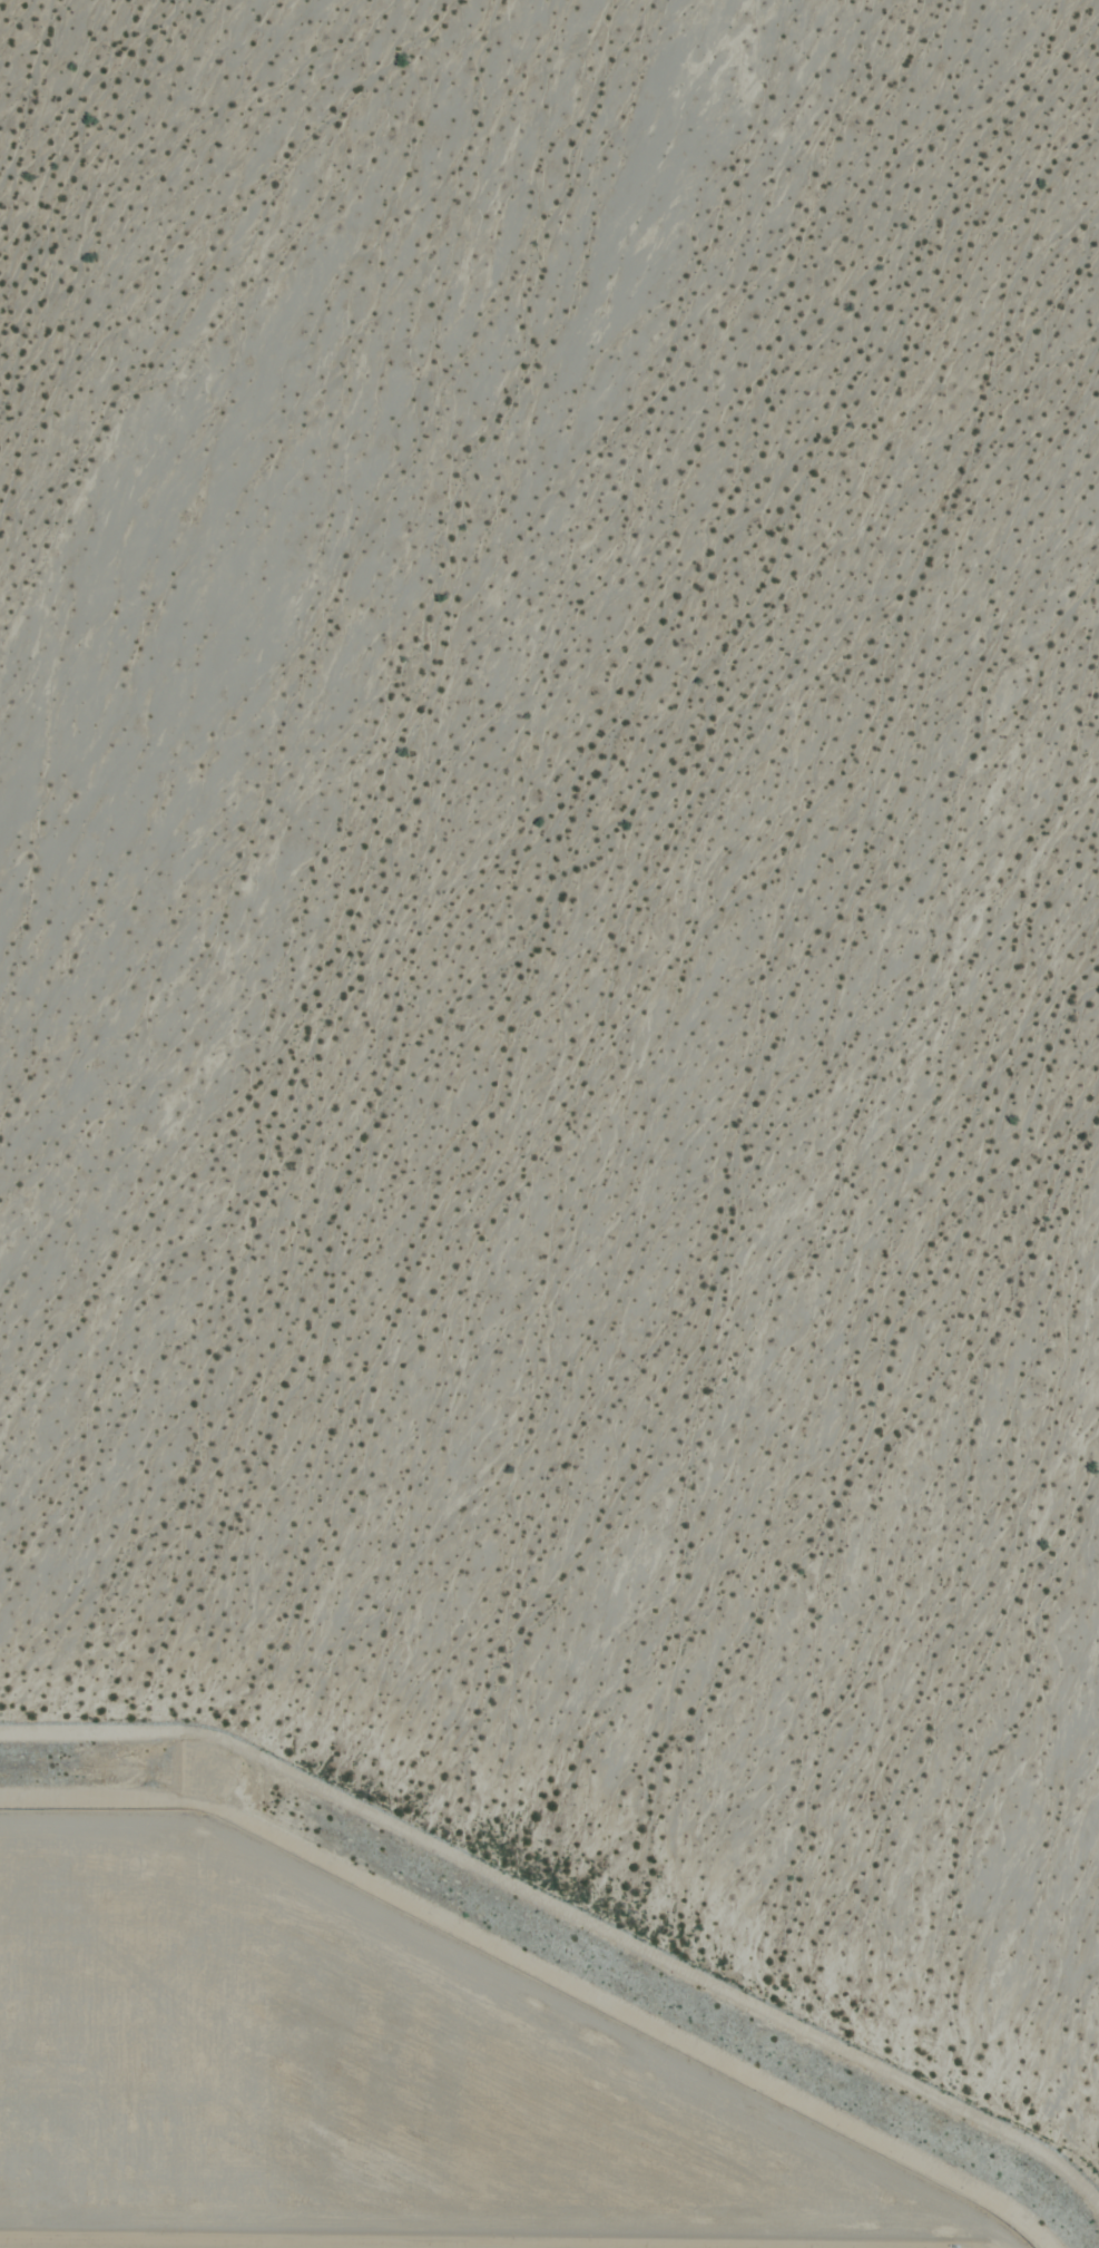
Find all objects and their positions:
solar farm: (364, 2078)

